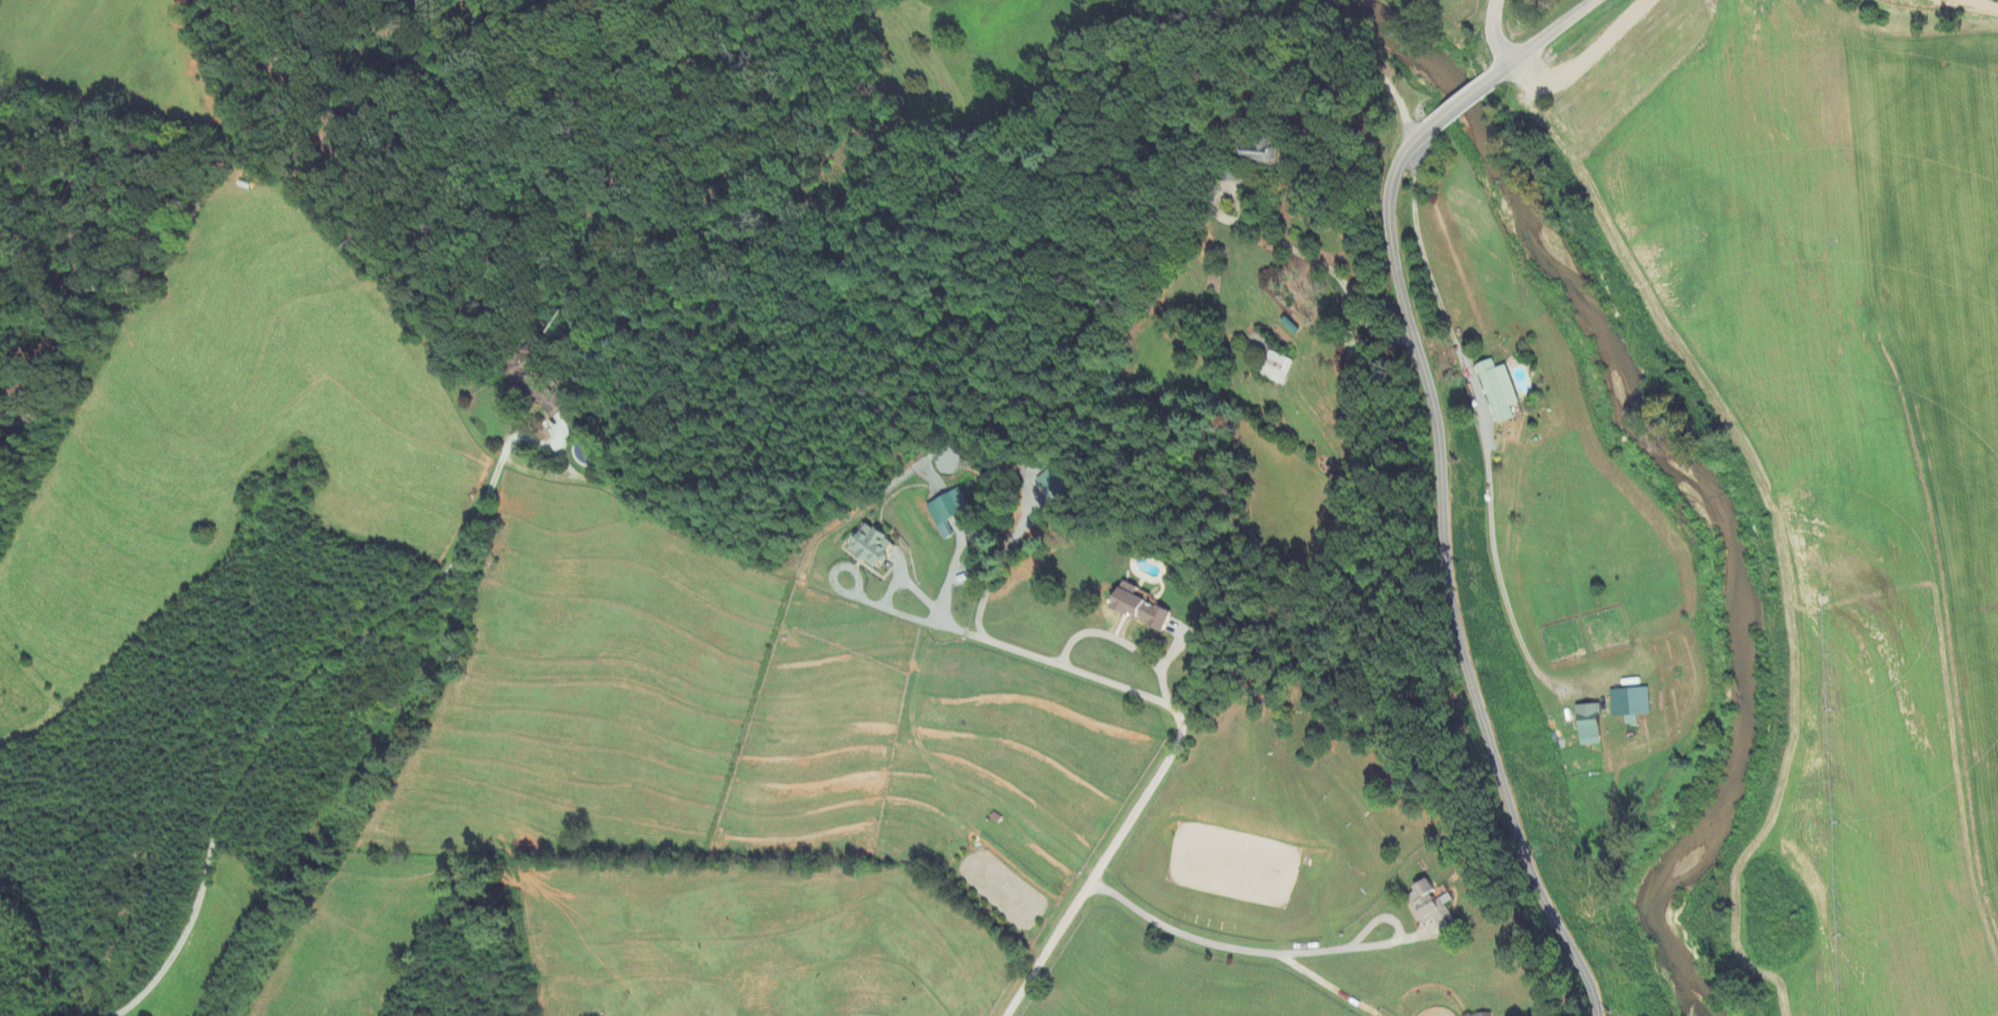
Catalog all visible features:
road: (1992, 2)
road: (1494, 34)
road: (1544, 37)
road: (1584, 64)
road: (1461, 100)
road: (1146, 199)
road: (1296, 250)
road: (1478, 419)
road: (514, 440)
river: (1703, 475)
road: (992, 574)
road: (1451, 574)
road: (1114, 642)
road: (1000, 648)
road: (270, 732)
road: (1221, 943)

